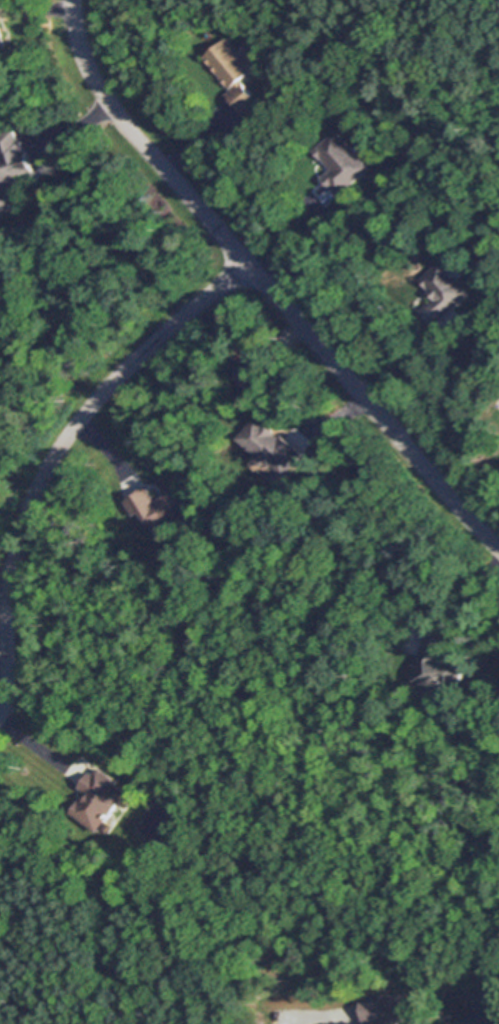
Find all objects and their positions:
building: (3, 45)
building: (235, 72)
building: (287, 74)
building: (342, 162)
building: (14, 171)
road: (299, 243)
road: (265, 287)
building: (445, 292)
building: (251, 371)
building: (272, 444)
road: (55, 452)
building: (161, 507)
building: (442, 664)
building: (132, 742)
road: (41, 749)
building: (102, 798)
building: (144, 862)
building: (15, 968)
building: (433, 969)
building: (391, 1008)

